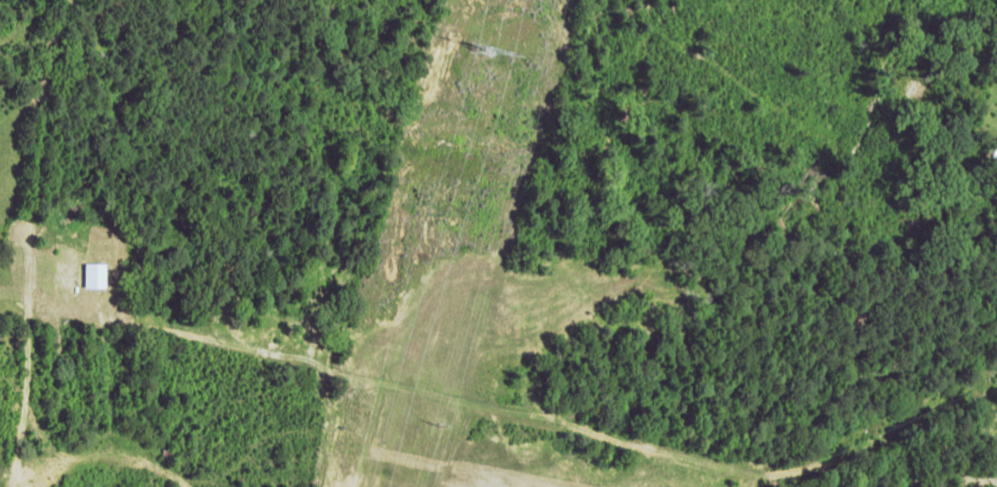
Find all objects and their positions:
power tower: (477, 51)
road: (37, 108)
building: (70, 266)

